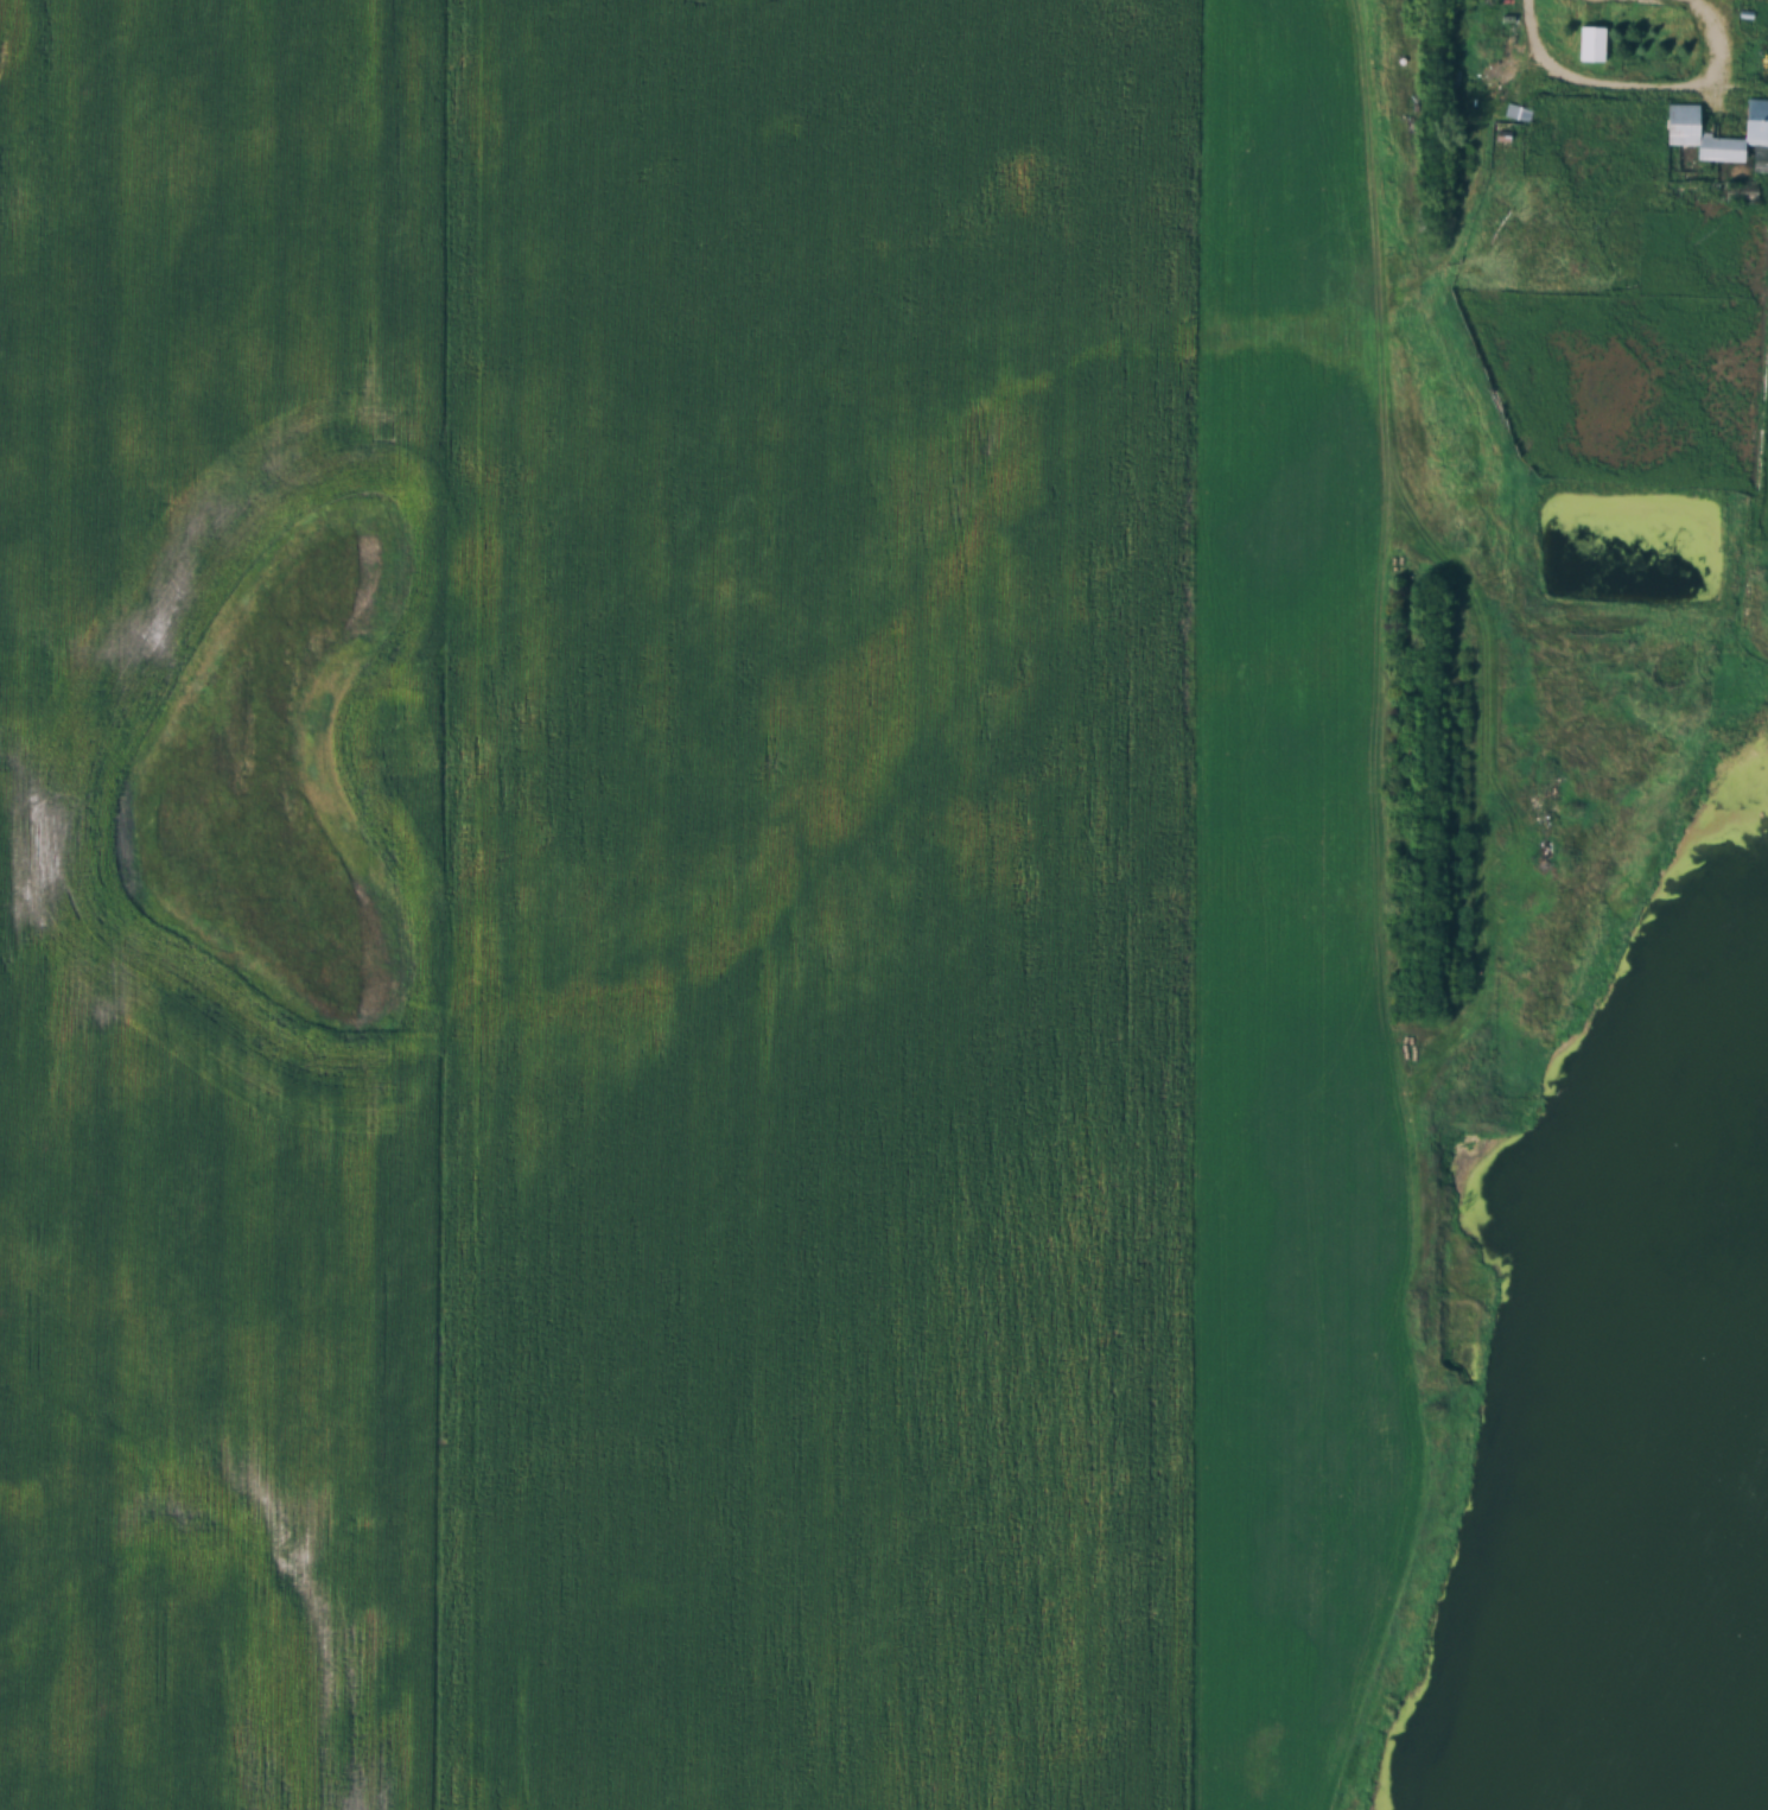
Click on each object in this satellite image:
building: (1596, 45)
building: (1686, 122)

